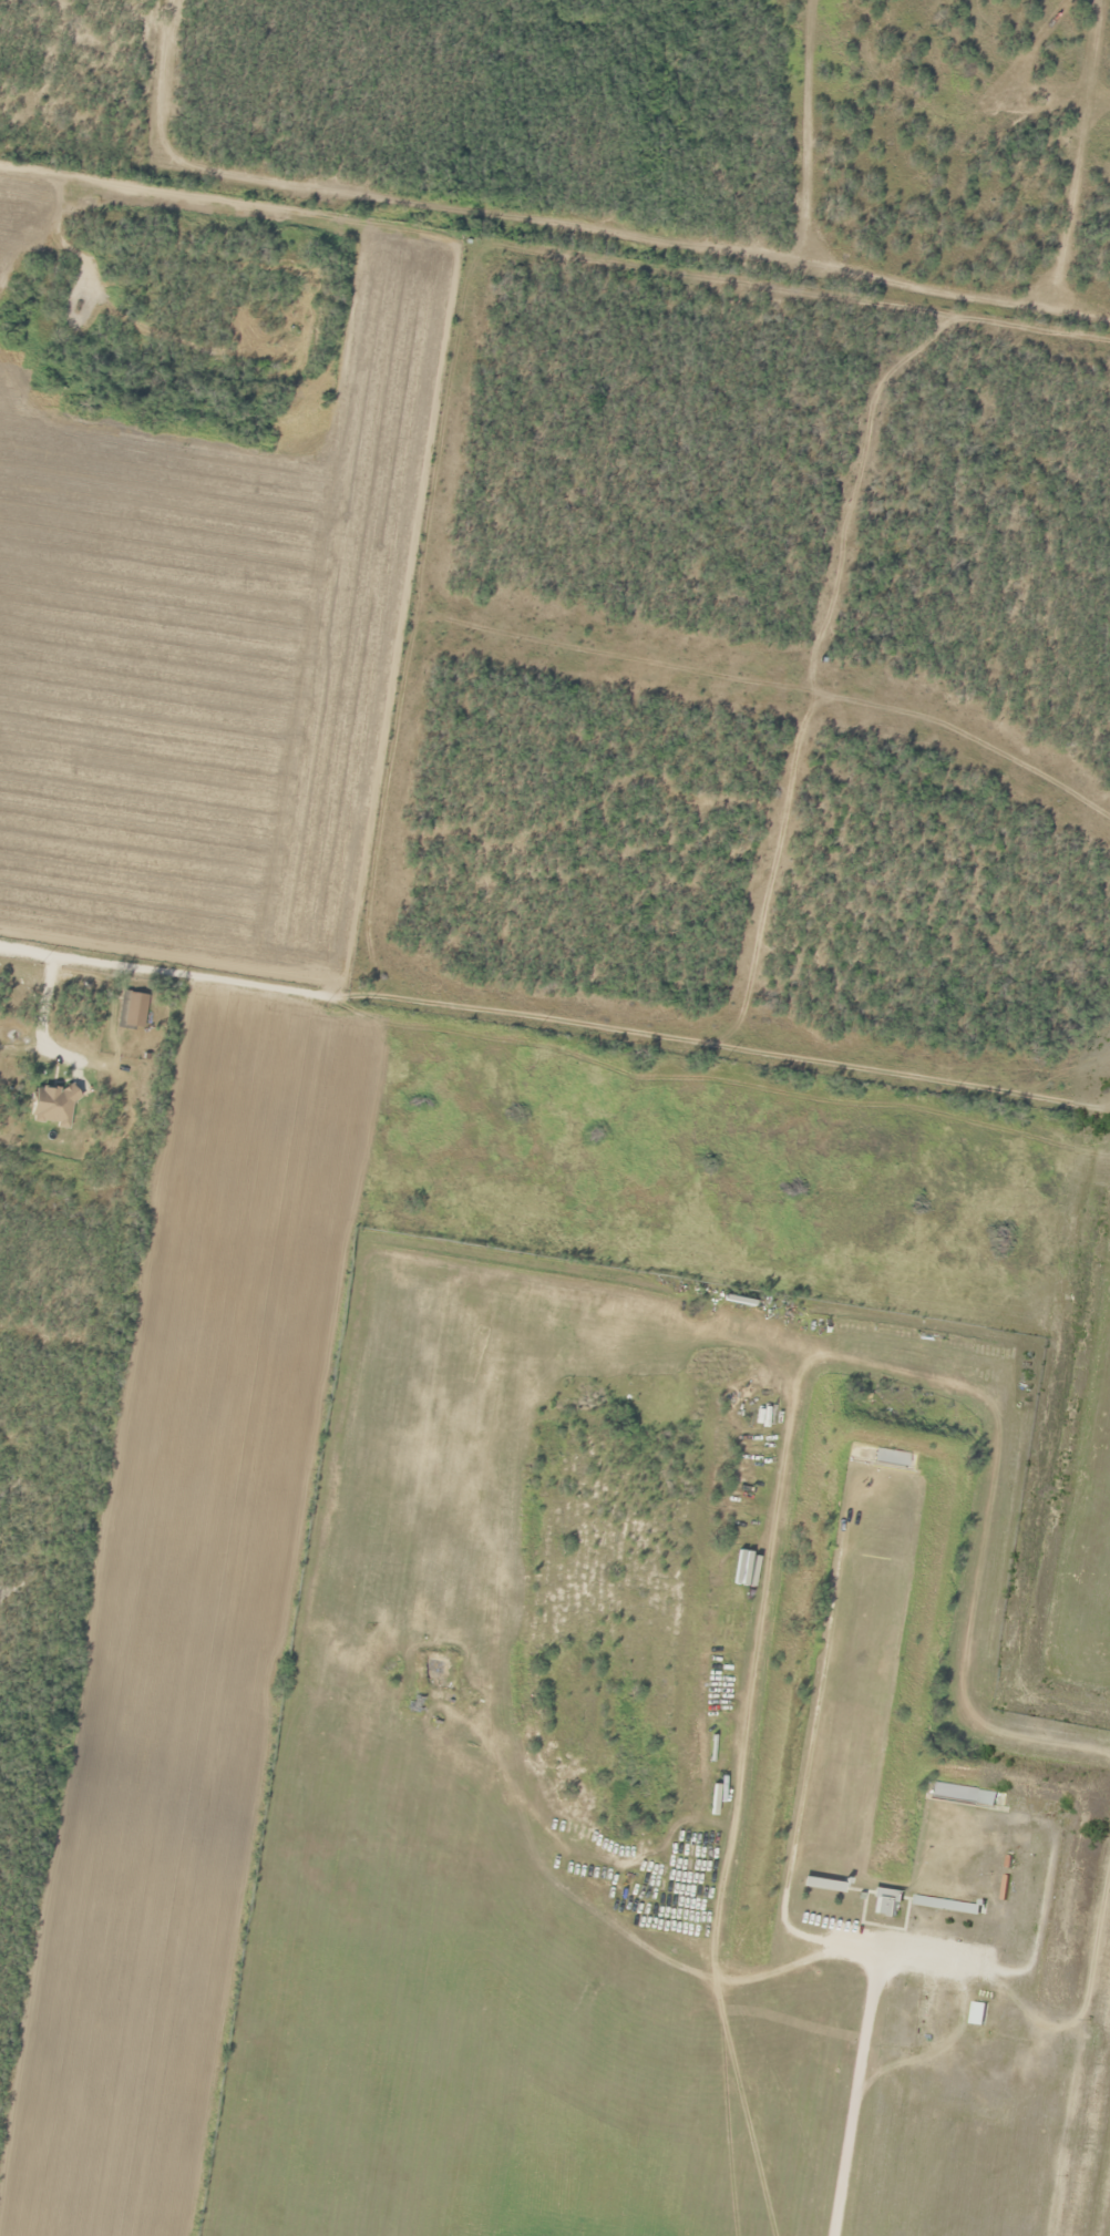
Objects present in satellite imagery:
building: (130, 1009)
road: (65, 1058)
building: (888, 1457)
building: (959, 1794)
building: (819, 1884)
building: (883, 1901)
building: (946, 1904)
building: (975, 2012)
road: (854, 2092)

